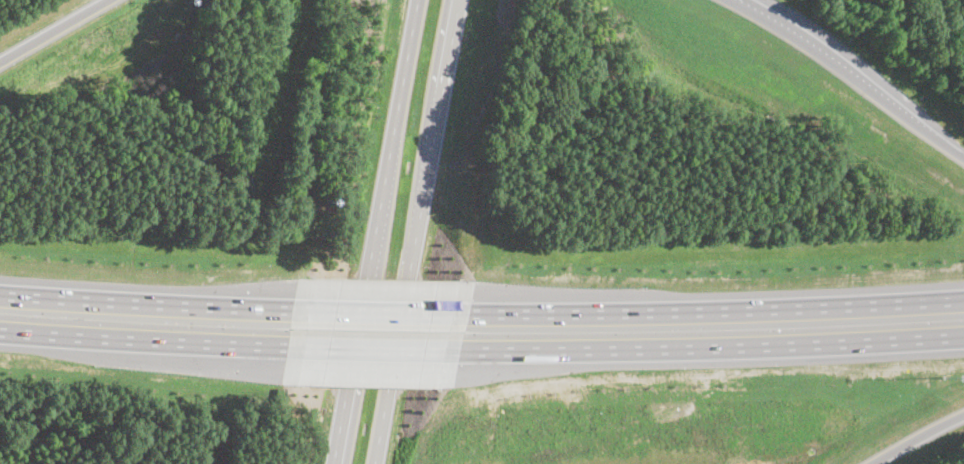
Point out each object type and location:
road: (53, 29)
road: (853, 74)
road: (376, 232)
road: (417, 232)
road: (147, 300)
road: (381, 308)
road: (715, 308)
road: (144, 337)
road: (711, 342)
road: (374, 345)
road: (915, 436)

